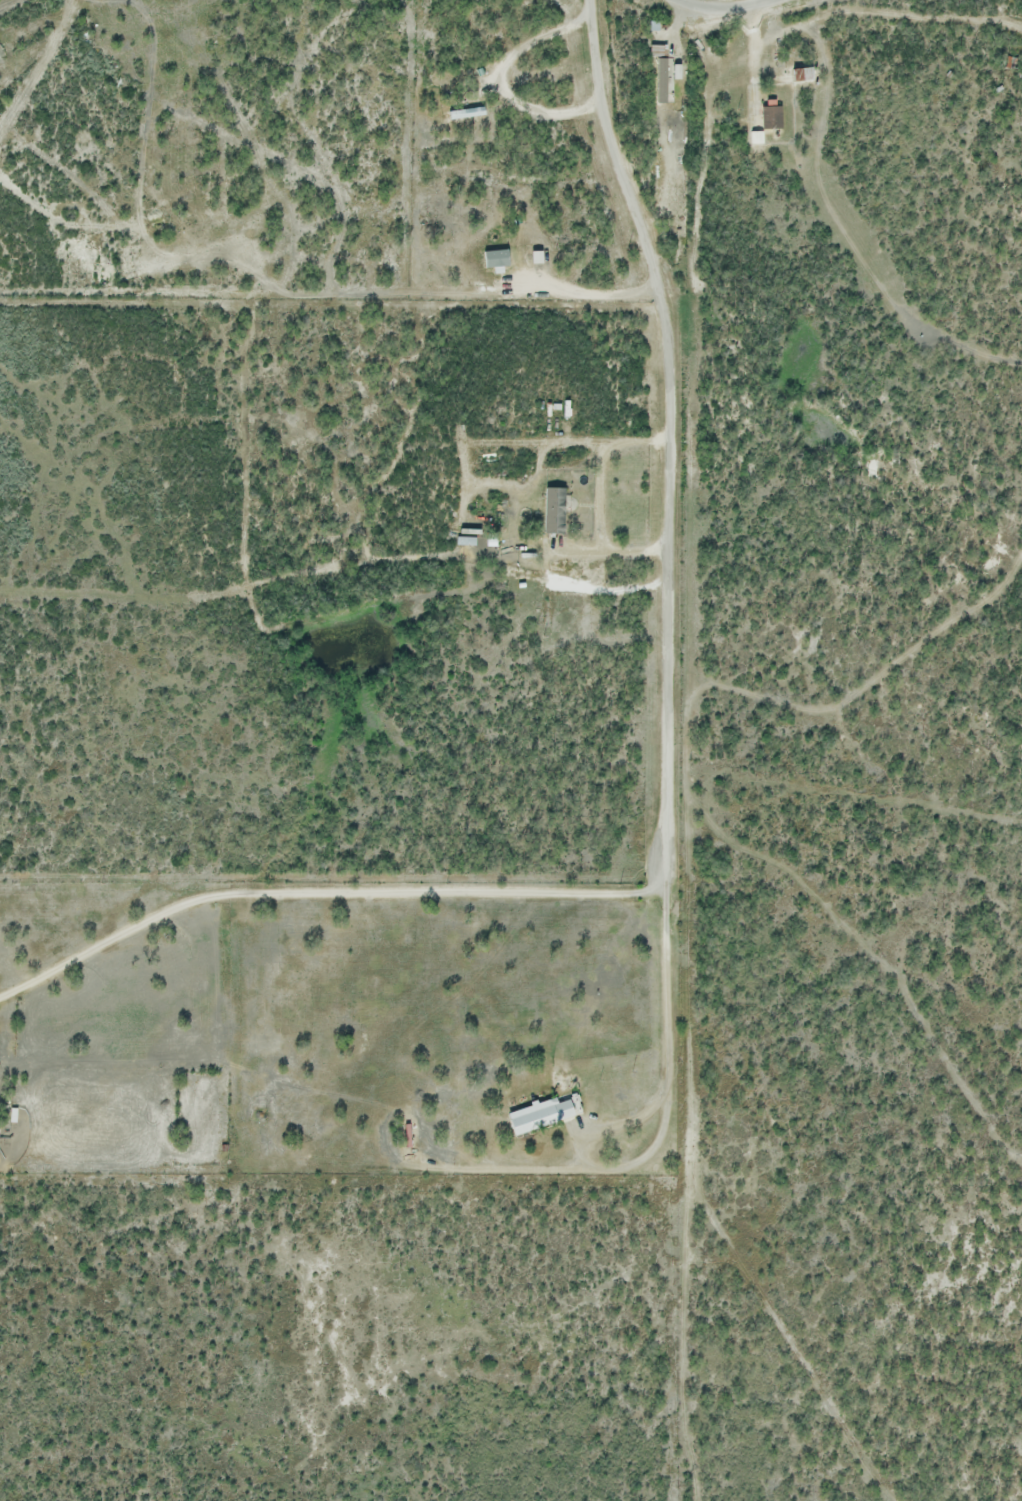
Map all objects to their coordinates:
road: (714, 11)
building: (804, 72)
building: (664, 79)
building: (468, 111)
building: (772, 117)
building: (757, 135)
building: (496, 259)
road: (664, 431)
building: (555, 509)
building: (547, 520)
building: (545, 613)
road: (650, 1108)
building: (14, 1114)
building: (541, 1114)

